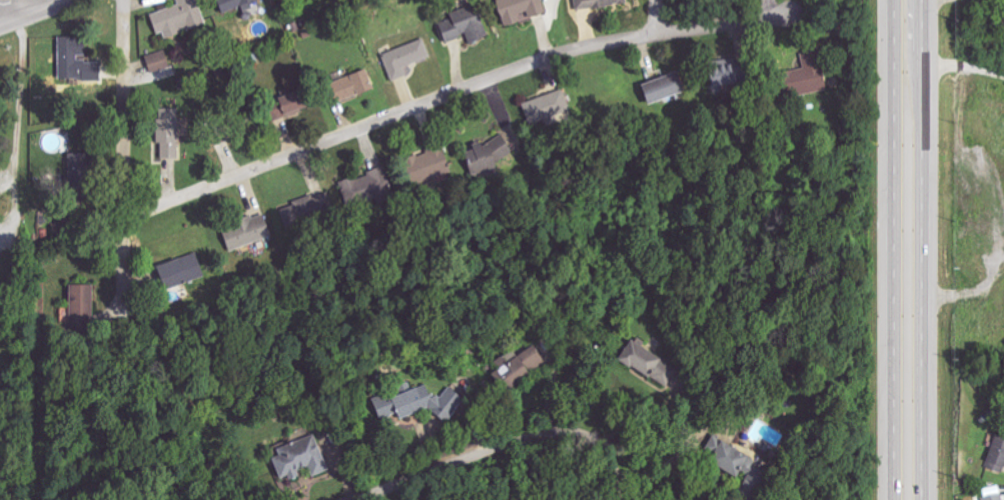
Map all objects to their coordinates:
building: (598, 3)
building: (237, 4)
road: (9, 9)
building: (519, 9)
road: (32, 11)
road: (659, 17)
building: (177, 18)
building: (466, 28)
building: (405, 58)
building: (76, 60)
building: (157, 61)
road: (963, 67)
building: (807, 74)
building: (722, 75)
building: (349, 86)
building: (659, 89)
road: (450, 92)
building: (284, 105)
road: (124, 109)
building: (541, 109)
road: (19, 114)
building: (168, 131)
building: (482, 156)
building: (429, 166)
building: (314, 205)
building: (247, 232)
road: (922, 249)
road: (894, 250)
road: (124, 268)
building: (181, 271)
building: (84, 304)
building: (533, 358)
building: (647, 363)
building: (510, 369)
building: (422, 403)
road: (507, 447)
building: (722, 455)
building: (996, 455)
building: (299, 458)
road: (663, 465)
building: (994, 497)

